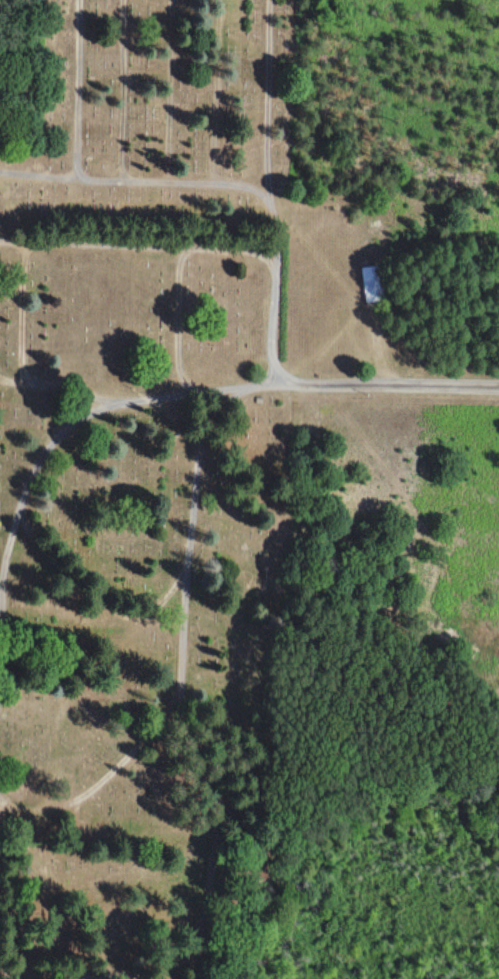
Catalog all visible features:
road: (77, 89)
road: (135, 182)
road: (270, 190)
building: (373, 283)
road: (289, 382)
park: (139, 491)
road: (14, 554)
road: (6, 804)

